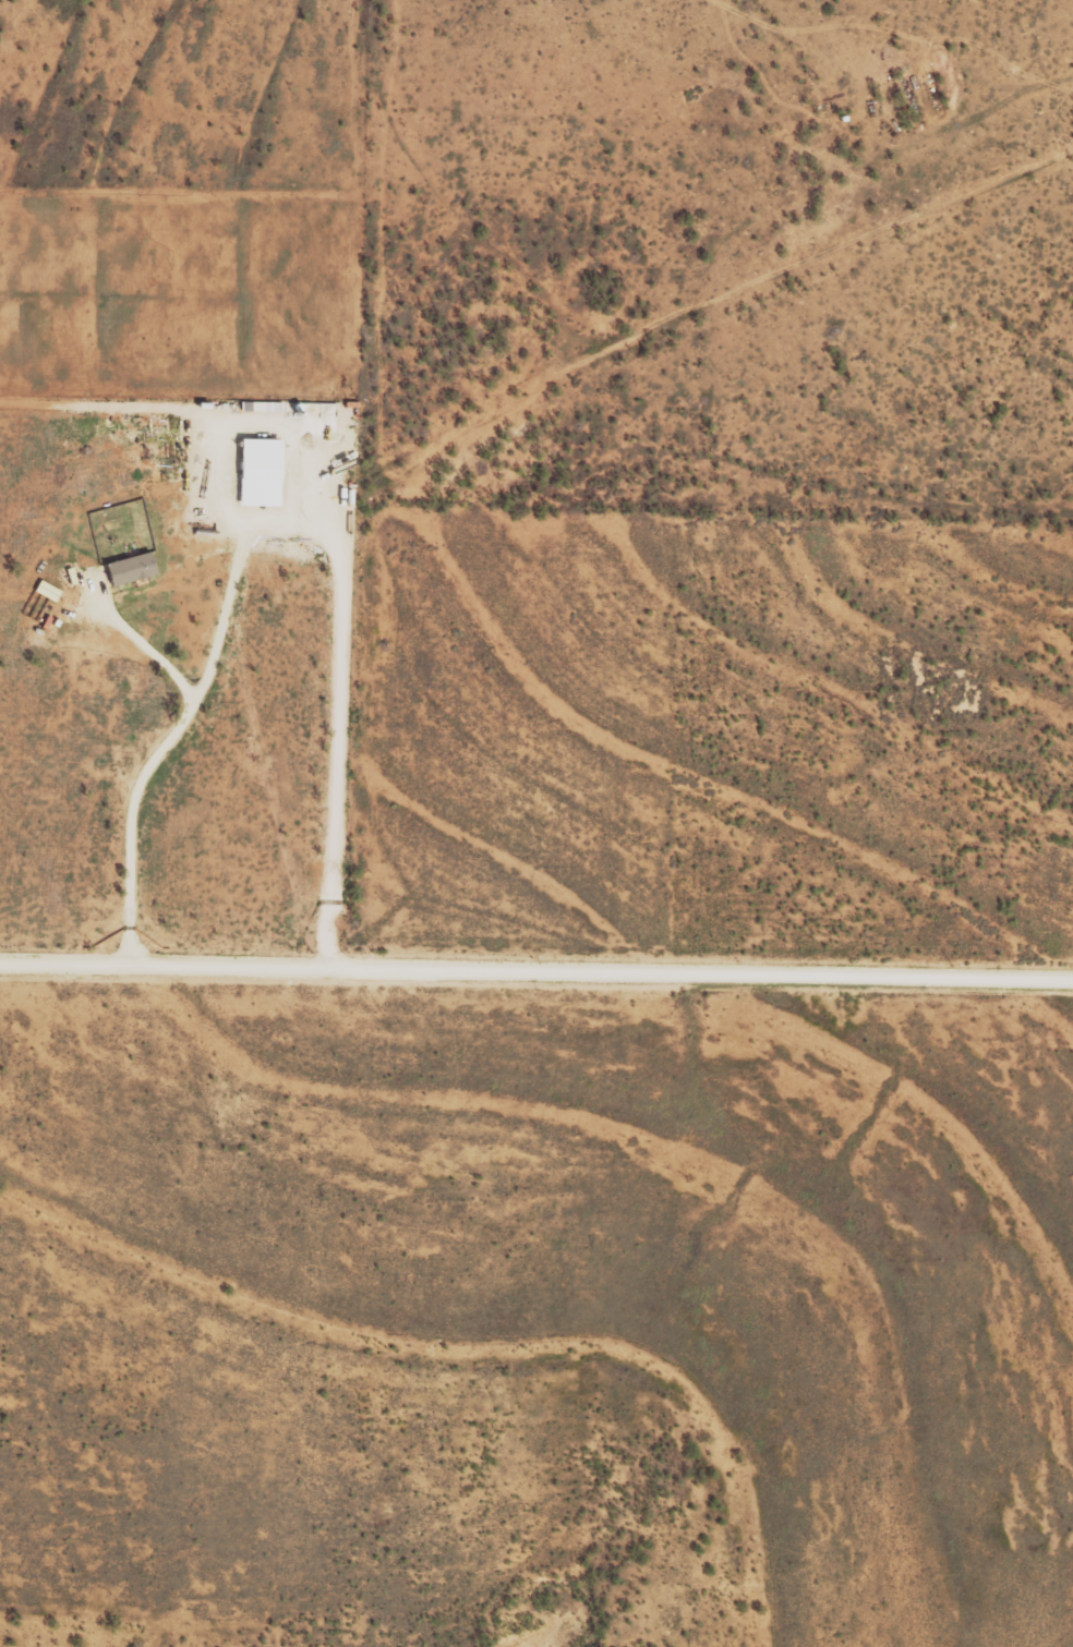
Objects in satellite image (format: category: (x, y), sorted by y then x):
road: (855, 241)
building: (255, 470)
building: (126, 567)
road: (131, 635)
road: (179, 718)
road: (535, 967)
road: (1066, 988)

